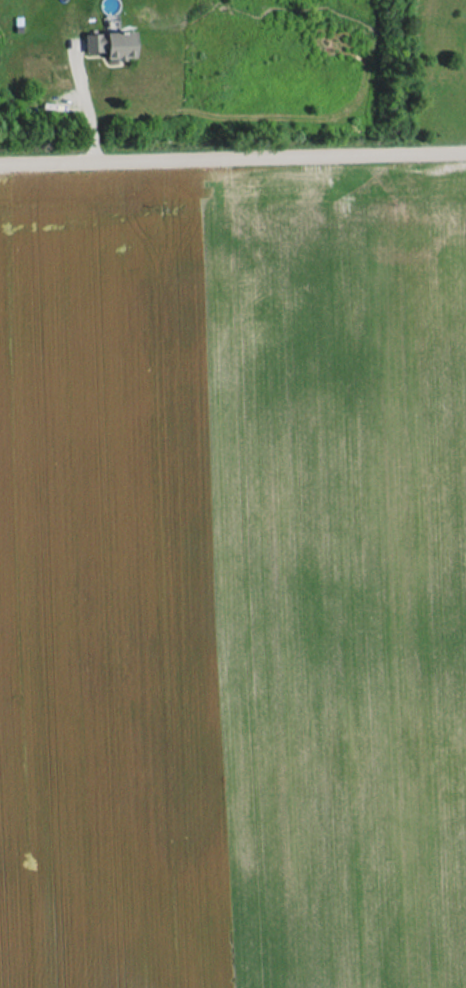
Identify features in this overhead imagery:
building: (111, 43)
road: (233, 157)

